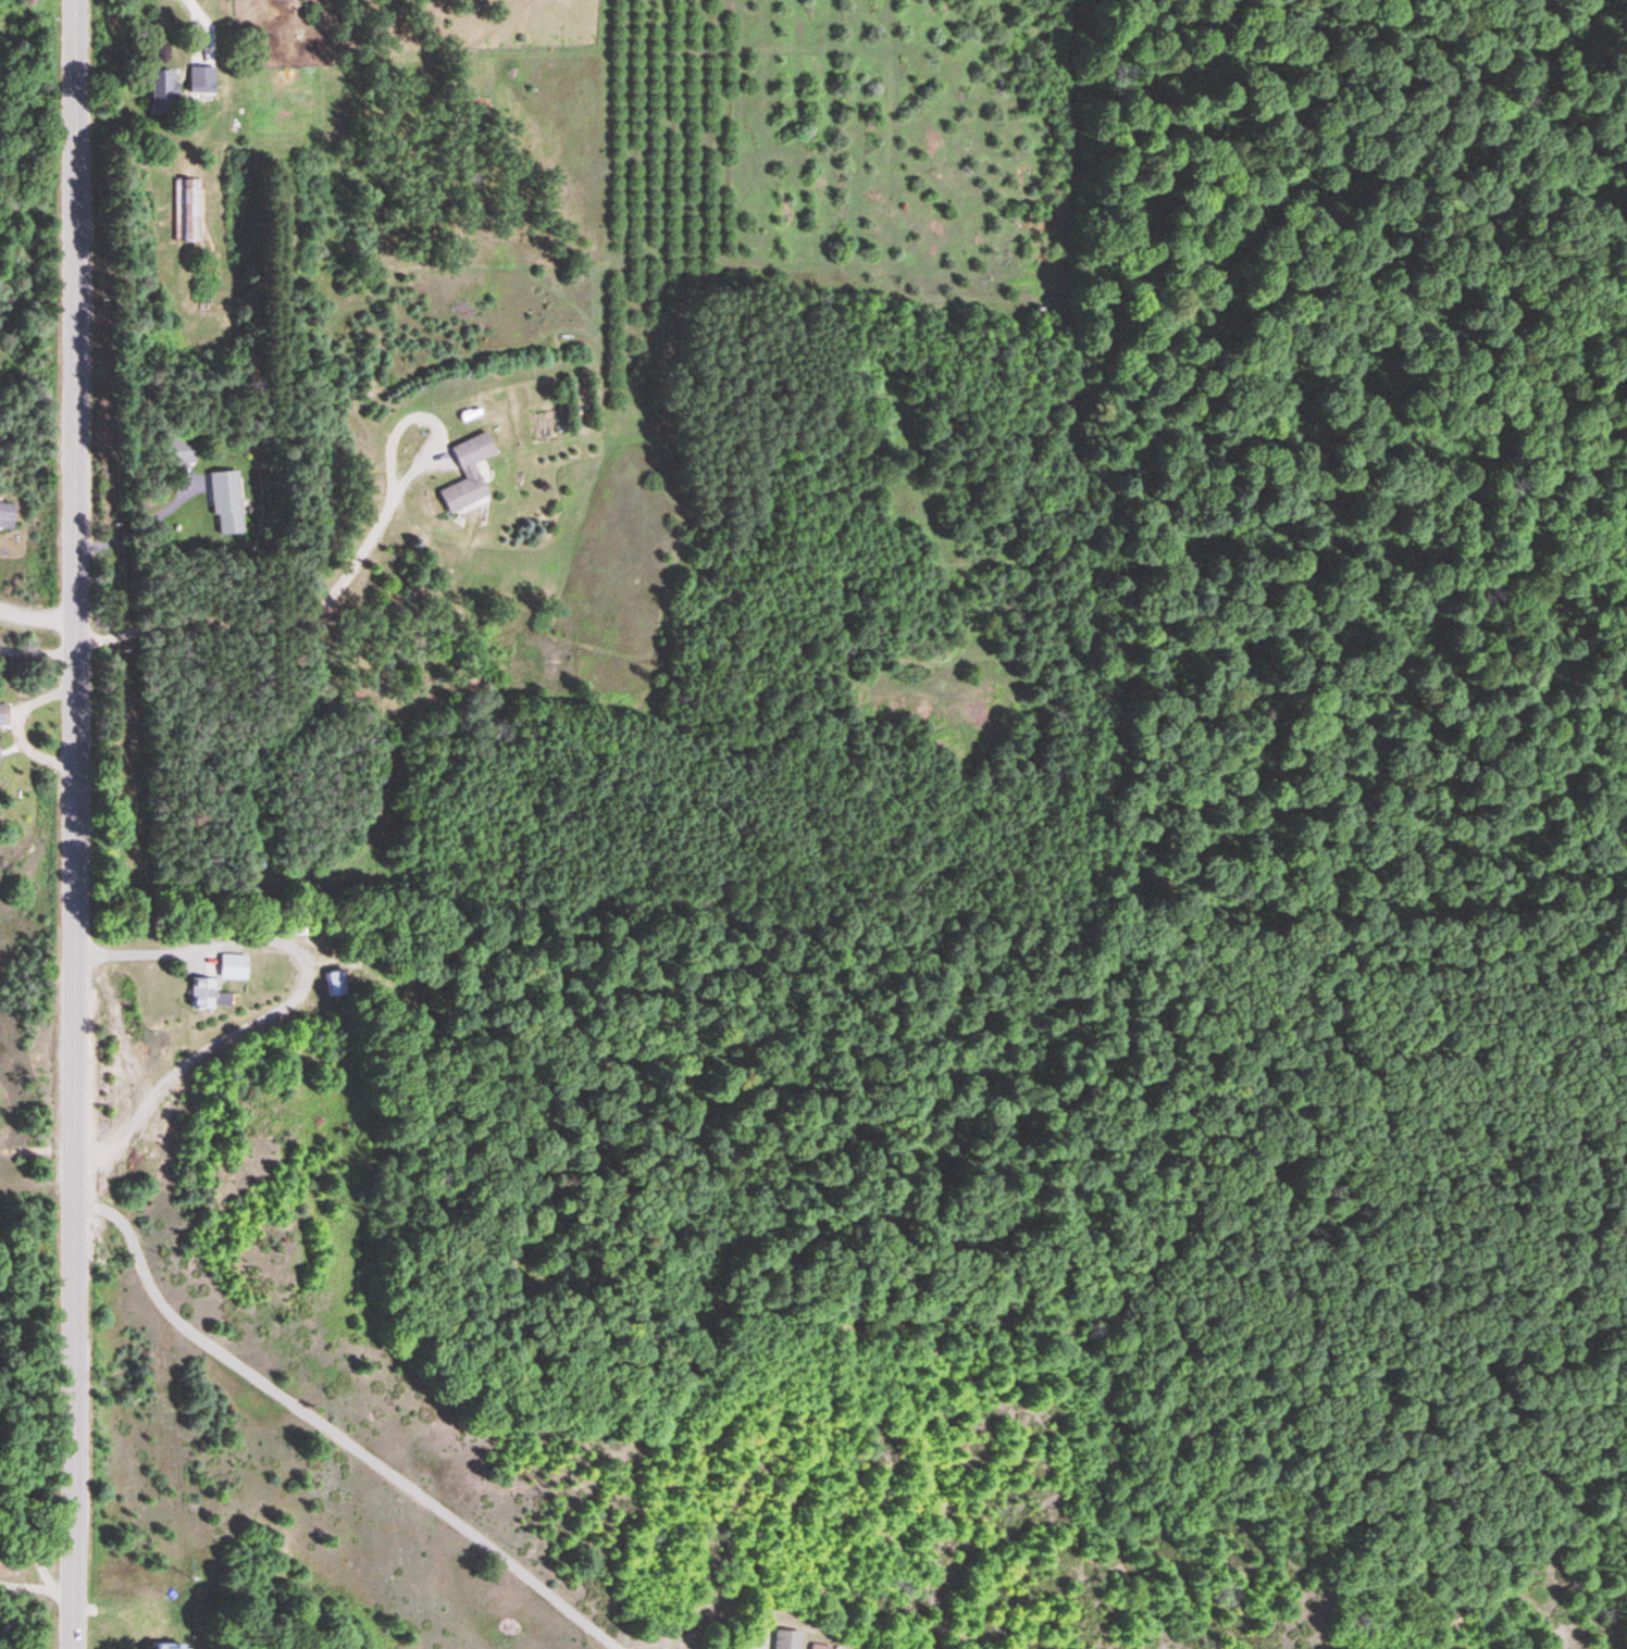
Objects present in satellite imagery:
building: (188, 214)
building: (463, 473)
building: (8, 516)
road: (211, 562)
road: (76, 824)
building: (201, 995)

